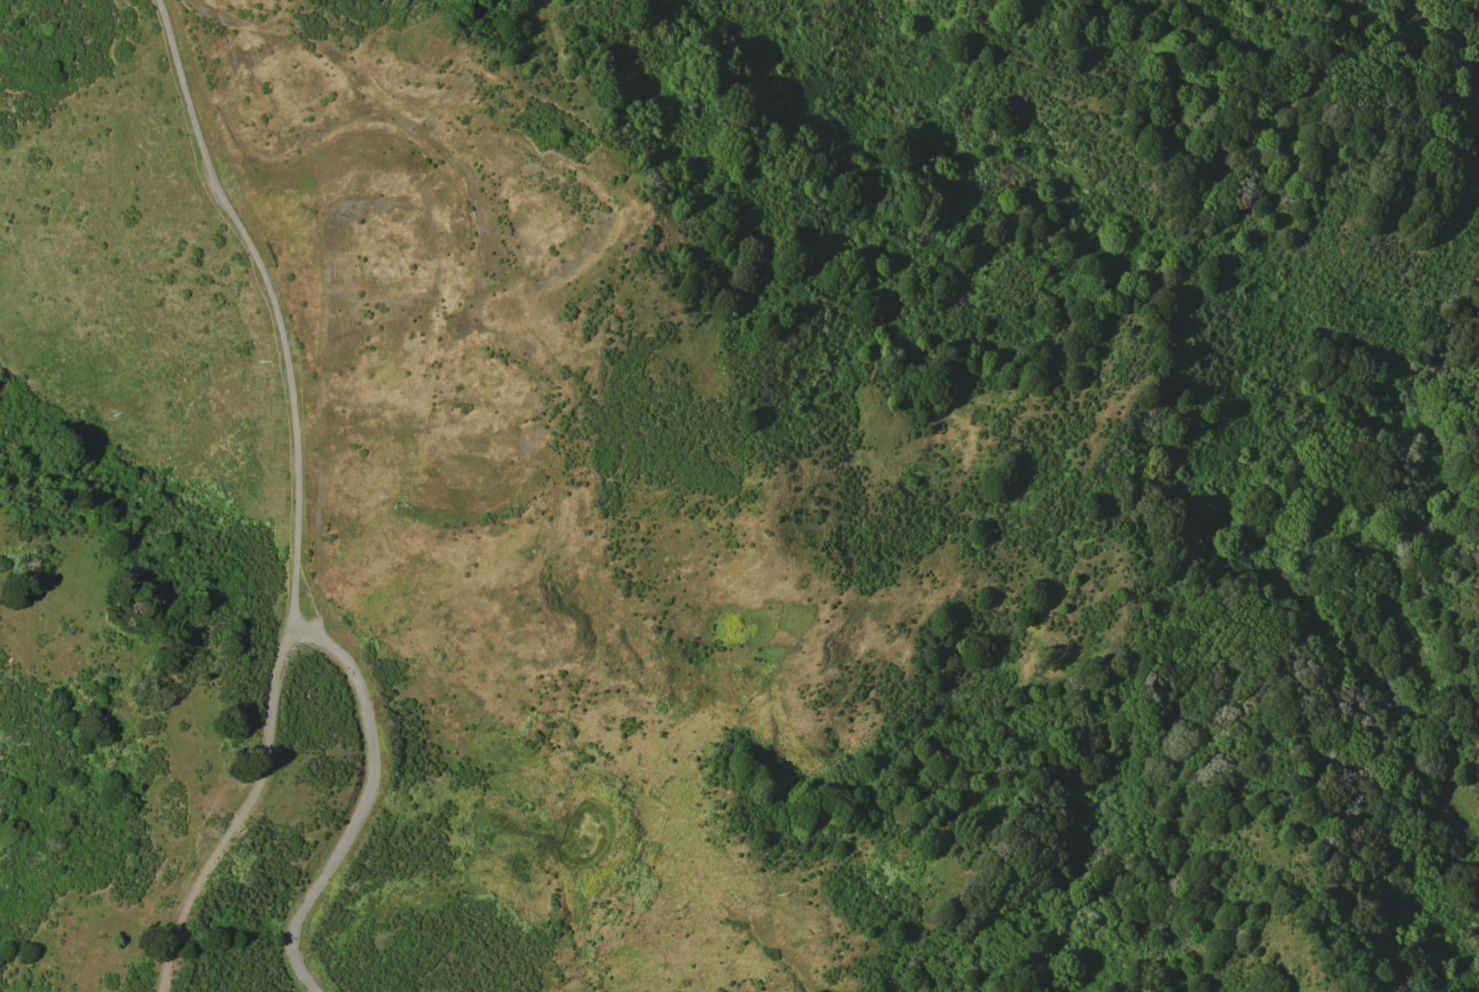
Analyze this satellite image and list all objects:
road: (274, 304)
road: (367, 807)
road: (245, 814)

